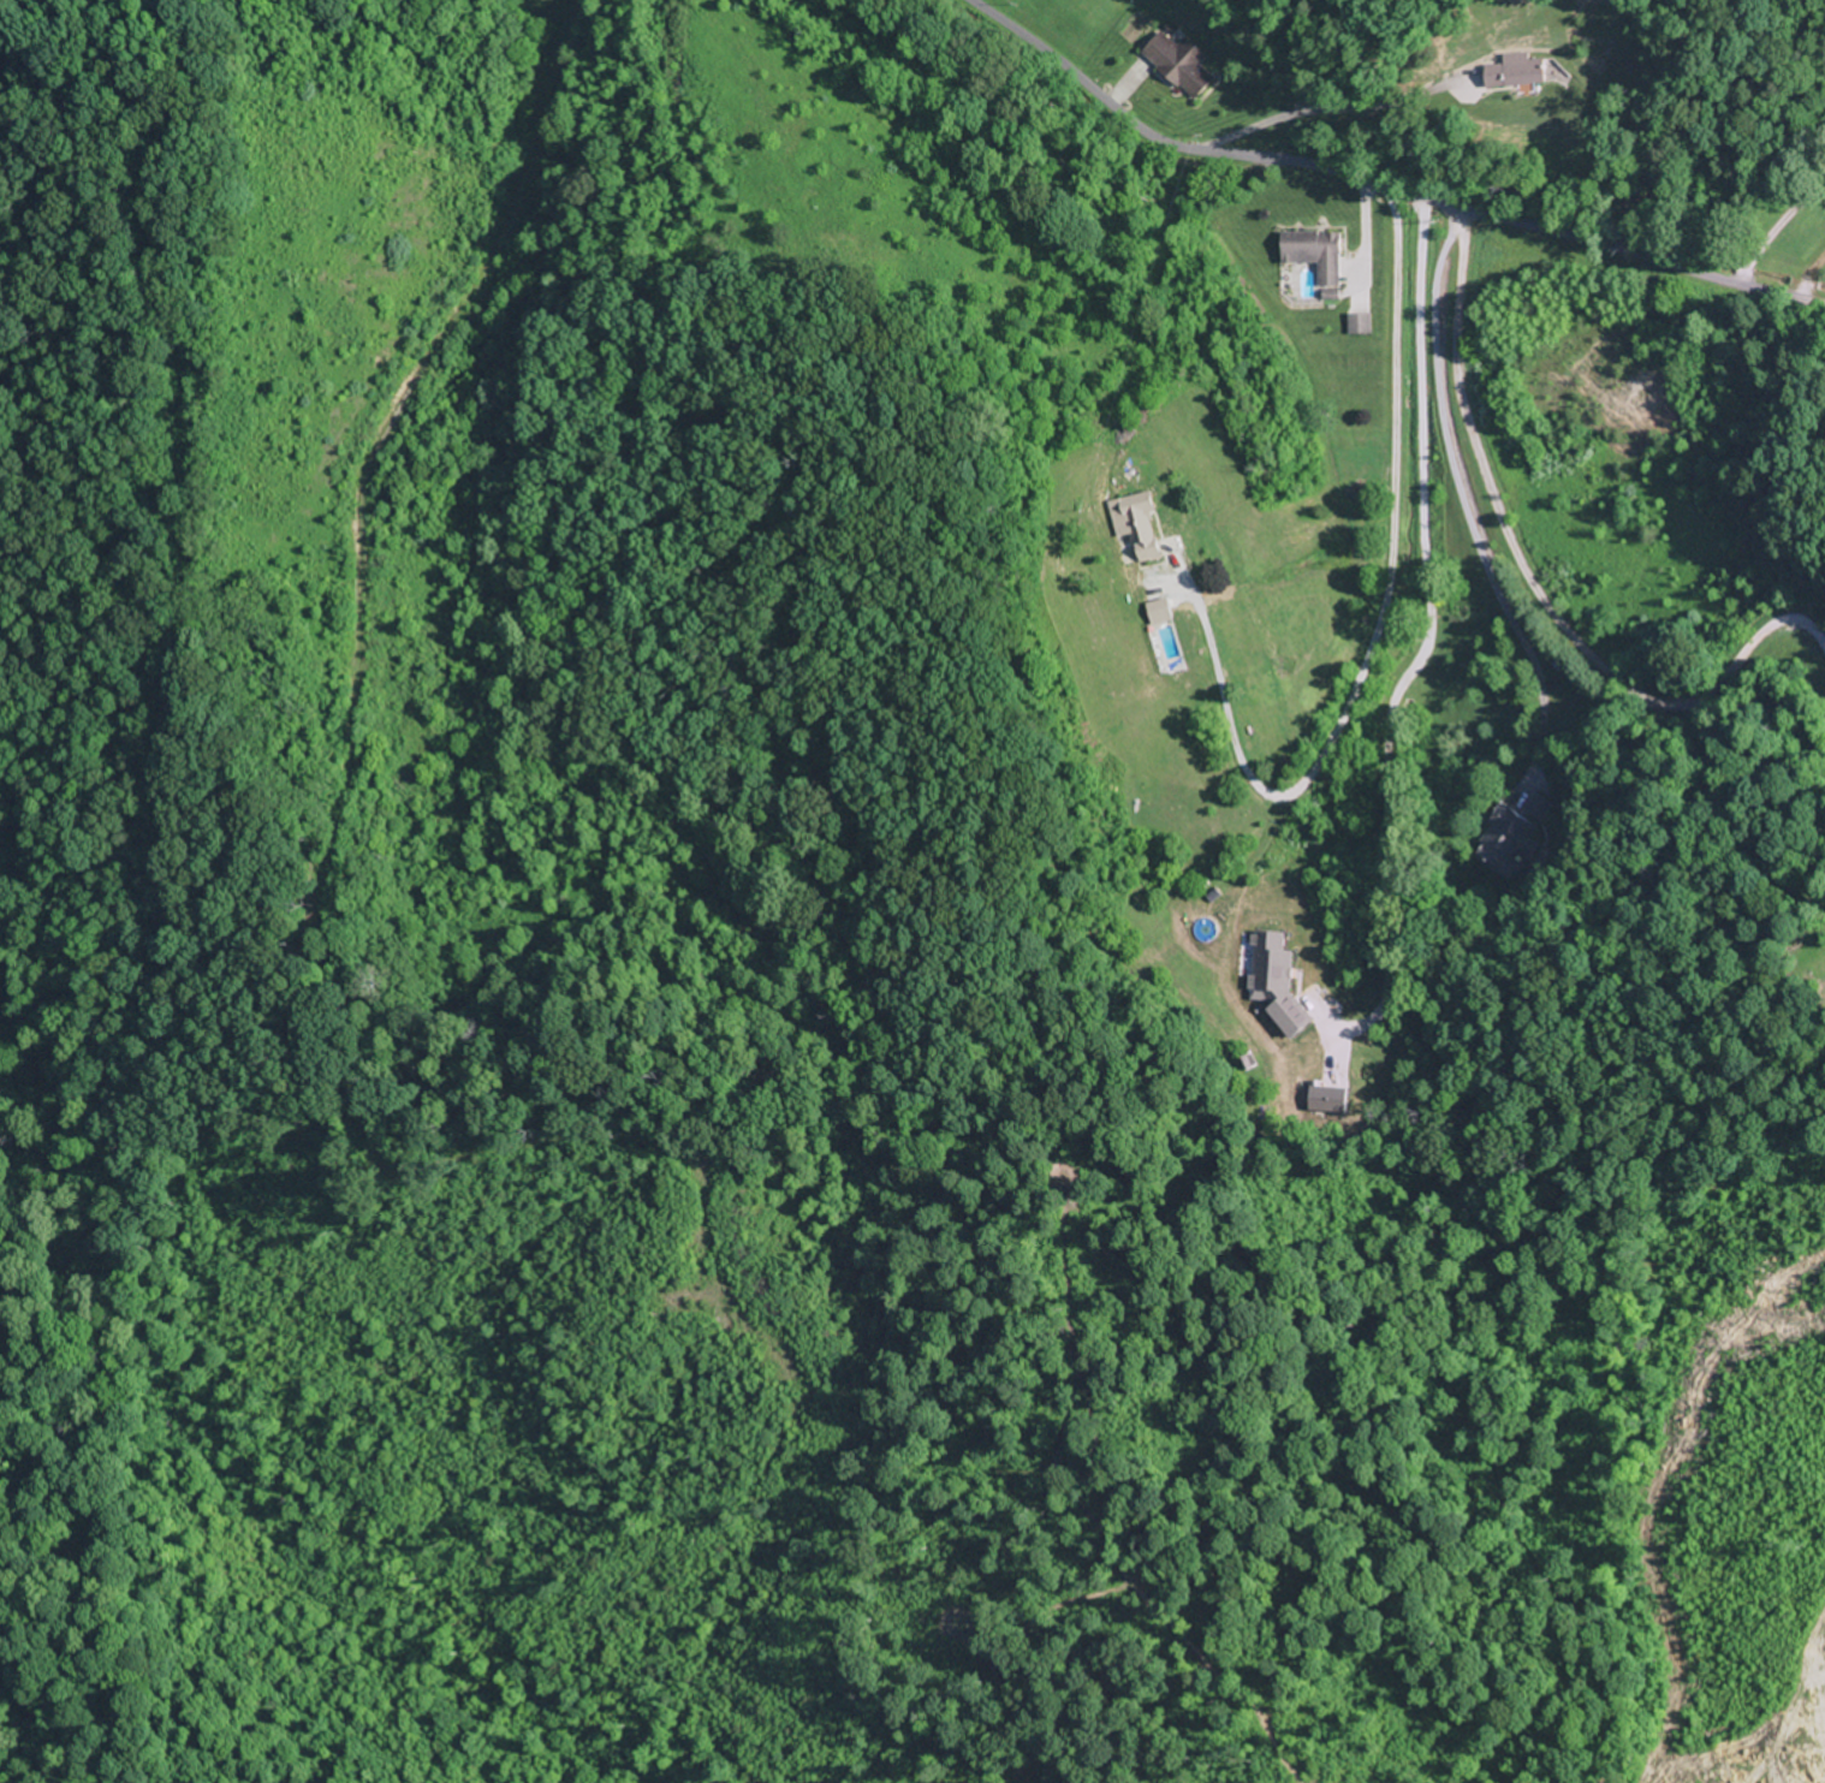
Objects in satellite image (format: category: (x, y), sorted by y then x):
building: (1181, 63)
building: (1517, 72)
road: (1380, 183)
road: (1777, 225)
building: (1318, 254)
building: (1361, 323)
building: (1140, 528)
road: (1367, 653)
building: (1511, 834)

